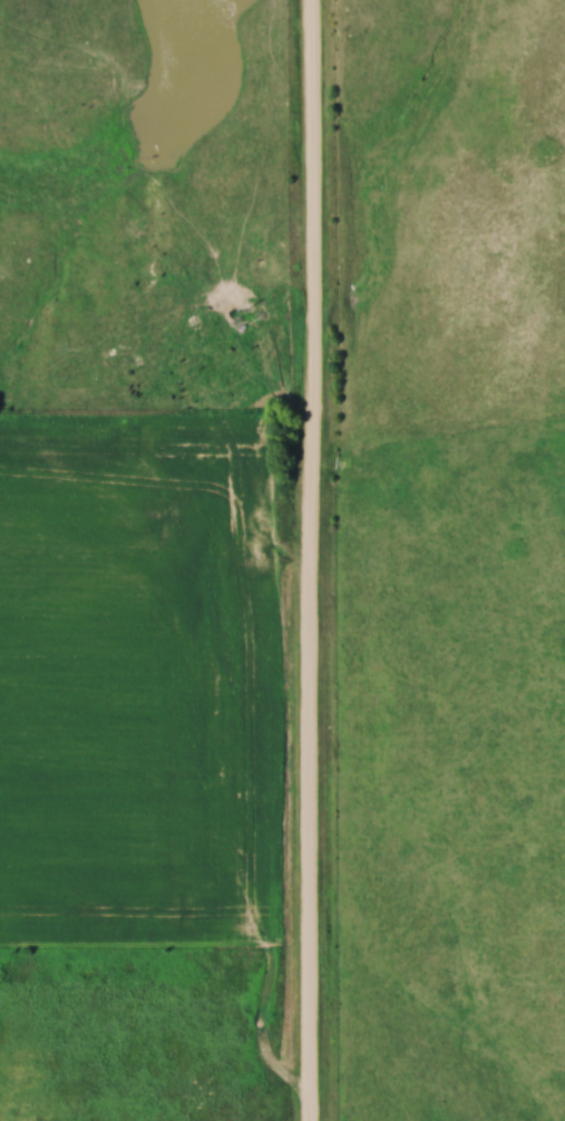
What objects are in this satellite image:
road: (306, 560)

